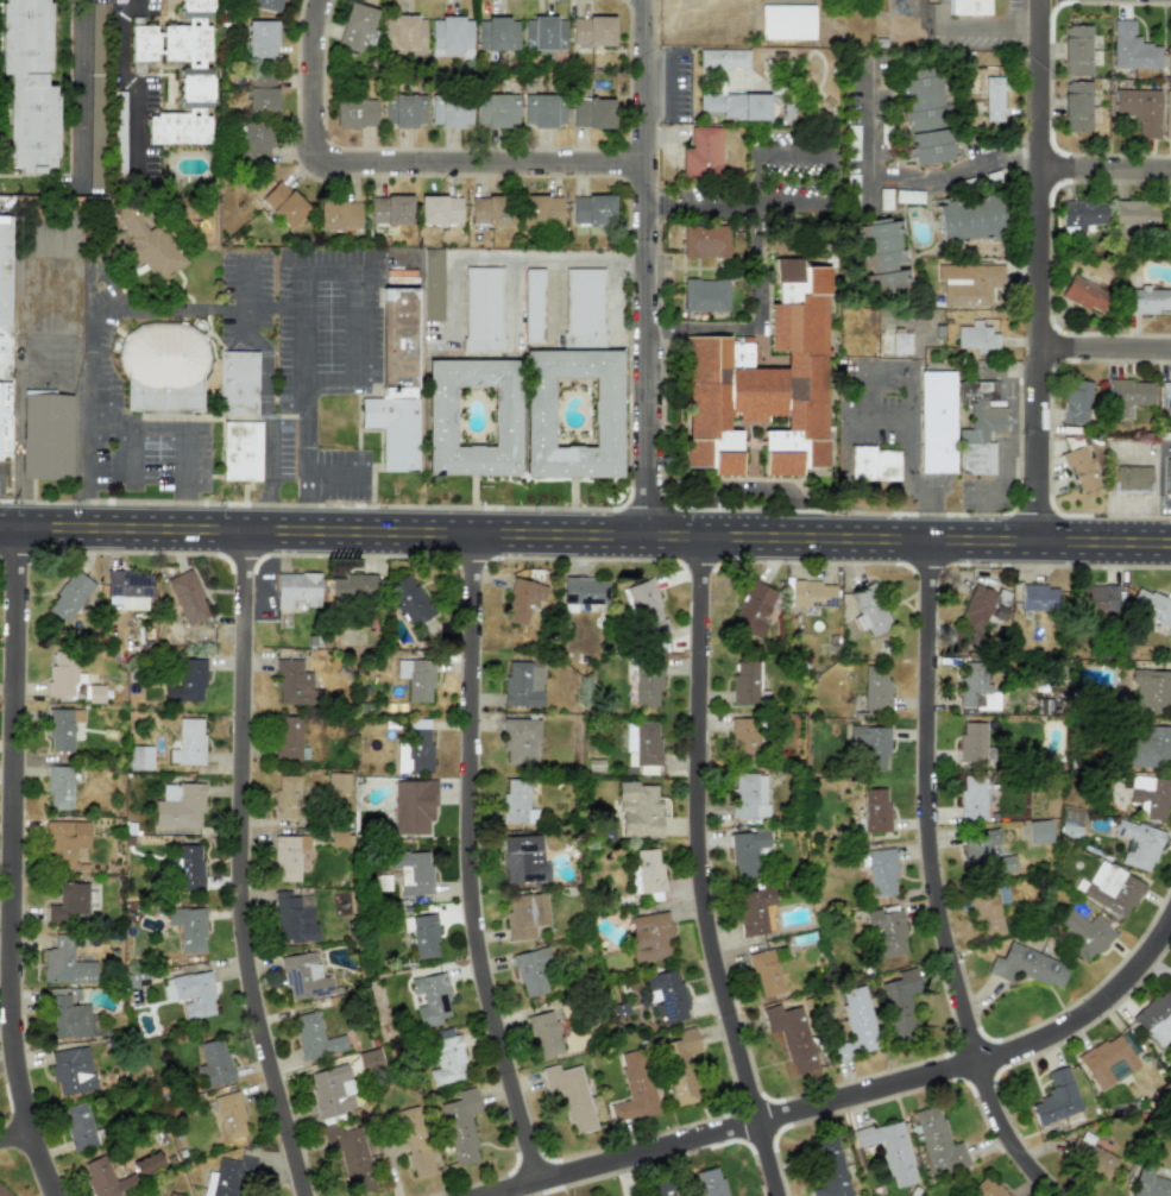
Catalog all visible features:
building: (265, 5)
building: (967, 7)
park: (695, 20)
building: (786, 21)
building: (354, 27)
road: (989, 30)
building: (591, 31)
building: (542, 32)
building: (496, 33)
building: (403, 34)
building: (449, 37)
building: (260, 40)
building: (96, 46)
building: (1131, 48)
building: (1076, 49)
building: (1167, 56)
building: (723, 58)
building: (178, 73)
building: (26, 87)
road: (132, 89)
road: (77, 90)
building: (260, 90)
building: (993, 97)
building: (728, 99)
building: (1075, 106)
building: (403, 109)
building: (496, 109)
building: (542, 109)
building: (1139, 109)
building: (354, 112)
building: (449, 112)
building: (591, 113)
building: (1166, 114)
building: (925, 115)
building: (254, 140)
building: (701, 151)
road: (829, 156)
road: (1104, 168)
building: (94, 171)
road: (392, 175)
road: (902, 180)
building: (884, 197)
building: (283, 203)
building: (389, 209)
building: (439, 209)
building: (540, 209)
building: (591, 209)
building: (490, 210)
building: (1081, 213)
building: (1134, 213)
building: (338, 215)
building: (1167, 218)
building: (969, 219)
building: (146, 241)
building: (705, 241)
road: (503, 254)
building: (881, 256)
road: (757, 265)
road: (646, 267)
road: (1035, 270)
building: (969, 283)
building: (432, 284)
road: (306, 287)
building: (4, 289)
building: (1083, 294)
building: (705, 295)
road: (512, 297)
building: (1147, 300)
building: (533, 304)
building: (584, 307)
building: (481, 308)
road: (139, 309)
building: (976, 336)
building: (900, 342)
road: (1103, 346)
road: (264, 365)
building: (163, 367)
building: (237, 380)
building: (395, 382)
building: (762, 382)
road: (909, 395)
building: (1126, 395)
building: (1165, 398)
building: (1075, 402)
building: (541, 413)
building: (4, 417)
building: (443, 417)
building: (936, 422)
road: (140, 426)
building: (977, 427)
building: (46, 436)
road: (132, 447)
building: (240, 451)
building: (1081, 468)
road: (334, 471)
building: (1166, 474)
building: (1131, 478)
road: (88, 512)
road: (189, 515)
road: (267, 515)
road: (308, 516)
road: (585, 534)
building: (128, 583)
building: (353, 586)
building: (296, 588)
building: (584, 591)
building: (811, 593)
building: (69, 597)
building: (187, 597)
building: (1038, 598)
building: (1100, 598)
building: (408, 599)
building: (521, 600)
building: (1150, 606)
building: (751, 609)
building: (980, 609)
building: (646, 610)
building: (868, 610)
building: (61, 673)
building: (416, 678)
building: (187, 681)
building: (291, 682)
building: (647, 682)
building: (521, 684)
building: (747, 684)
building: (975, 686)
building: (875, 687)
building: (1150, 692)
building: (94, 693)
building: (62, 728)
building: (517, 738)
building: (743, 738)
building: (287, 739)
building: (642, 741)
building: (187, 742)
building: (971, 742)
building: (870, 745)
building: (414, 747)
building: (1148, 747)
building: (140, 757)
building: (338, 782)
building: (58, 787)
building: (748, 795)
building: (1150, 795)
building: (287, 797)
building: (972, 797)
building: (516, 801)
building: (413, 805)
building: (178, 806)
building: (638, 810)
building: (875, 810)
building: (1039, 831)
building: (63, 842)
building: (1137, 844)
building: (984, 850)
building: (745, 851)
building: (288, 856)
building: (523, 858)
road: (19, 863)
road: (476, 863)
building: (189, 867)
road: (246, 867)
road: (698, 870)
building: (411, 871)
building: (647, 871)
building: (880, 871)
road: (930, 881)
building: (1110, 888)
building: (68, 902)
building: (754, 909)
building: (987, 913)
building: (524, 914)
building: (292, 917)
building: (188, 927)
building: (884, 931)
building: (1083, 933)
building: (423, 936)
building: (649, 936)
building: (64, 963)
building: (1026, 965)
building: (764, 971)
building: (531, 972)
building: (302, 976)
building: (1169, 981)
building: (191, 994)
building: (665, 995)
building: (430, 999)
building: (899, 1001)
building: (67, 1015)
building: (1156, 1016)
building: (854, 1024)
building: (544, 1033)
building: (789, 1036)
building: (314, 1037)
building: (446, 1057)
building: (369, 1059)
building: (1107, 1060)
building: (214, 1063)
building: (680, 1064)
building: (71, 1070)
building: (634, 1087)
building: (330, 1090)
building: (569, 1096)
road: (863, 1096)
building: (1054, 1097)
building: (229, 1115)
building: (460, 1126)
building: (77, 1127)
building: (414, 1141)
road: (19, 1143)
building: (937, 1143)
building: (889, 1150)
building: (348, 1154)
building: (1091, 1156)
building: (829, 1167)
building: (97, 1176)
building: (225, 1178)
building: (1148, 1182)
building: (710, 1183)
building: (986, 1188)
building: (660, 1189)
building: (2, 1192)
building: (132, 1195)
building: (170, 1195)
building: (605, 1195)

